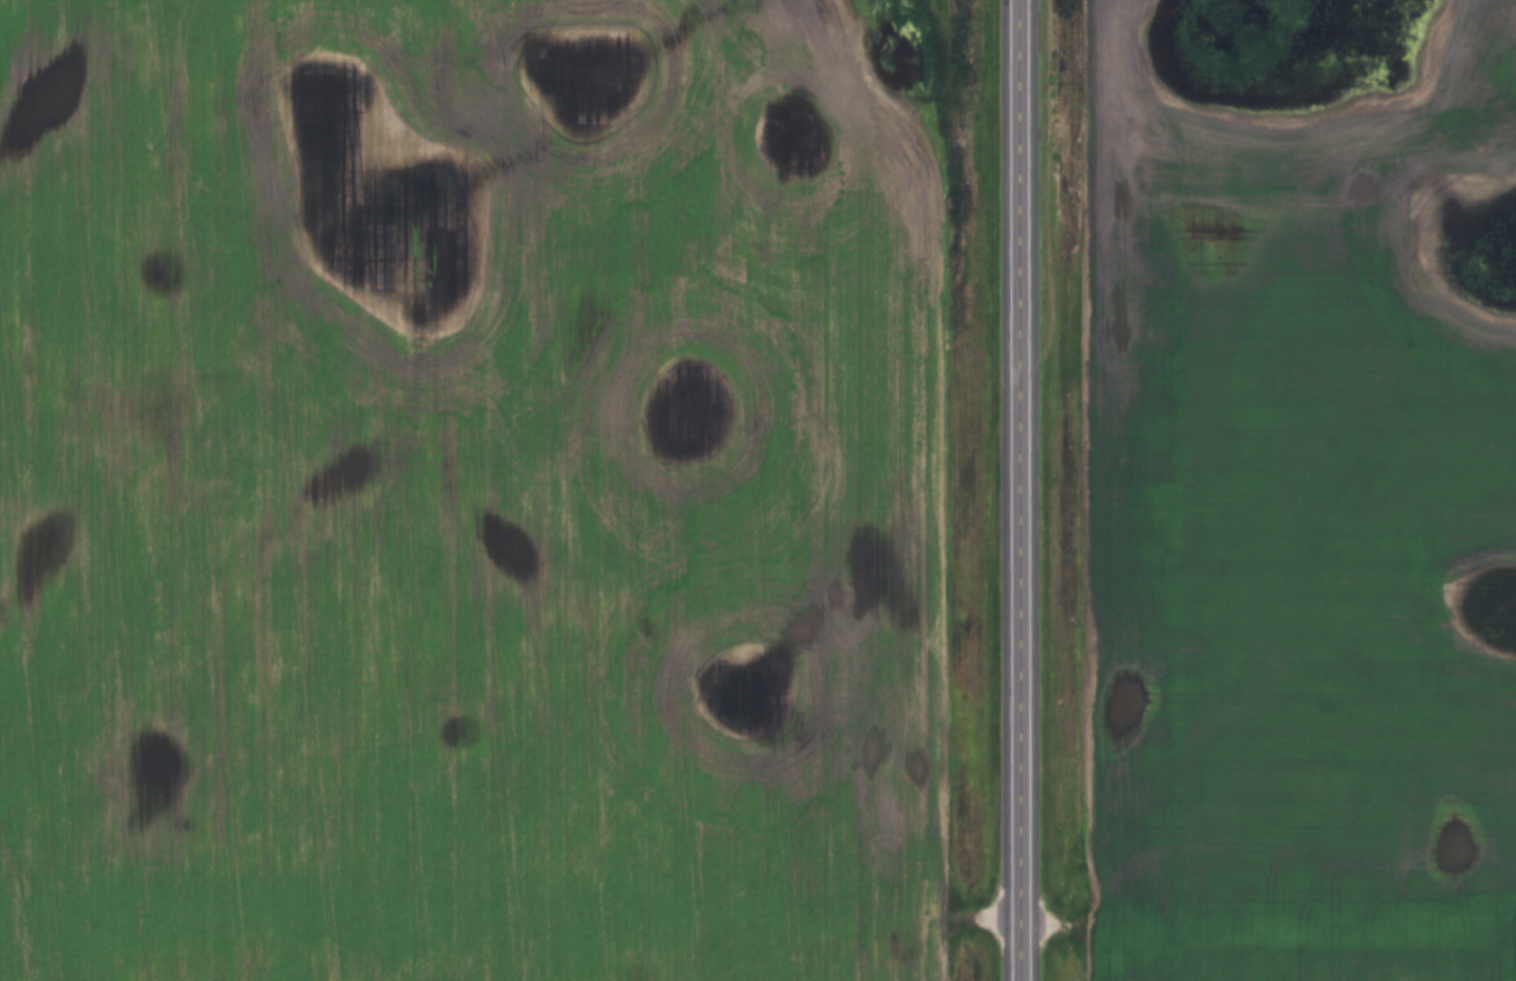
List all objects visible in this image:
road: (1022, 490)

